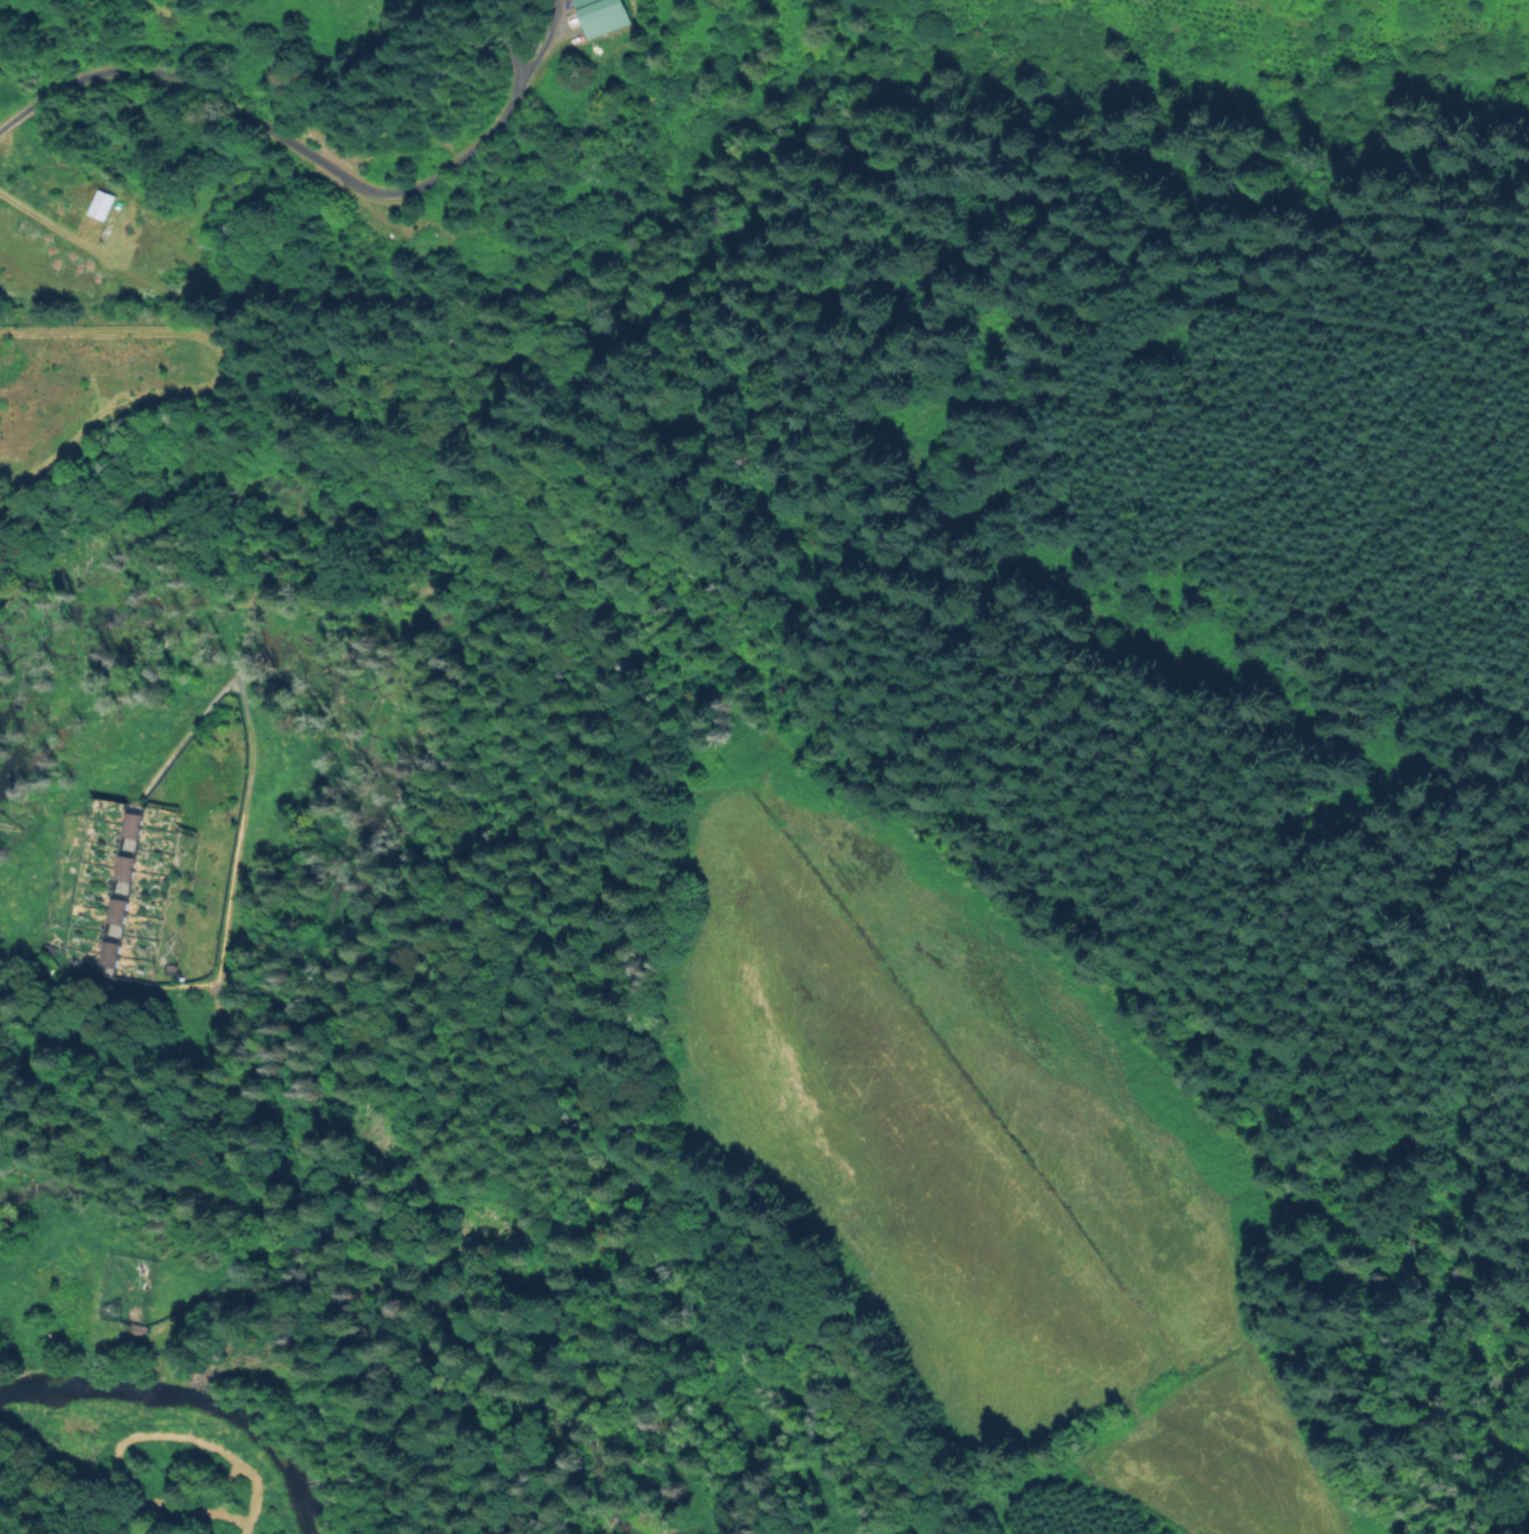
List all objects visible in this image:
building: (602, 16)
road: (507, 41)
road: (313, 158)
building: (101, 205)
road: (41, 220)
building: (128, 831)
building: (118, 892)
building: (108, 956)

